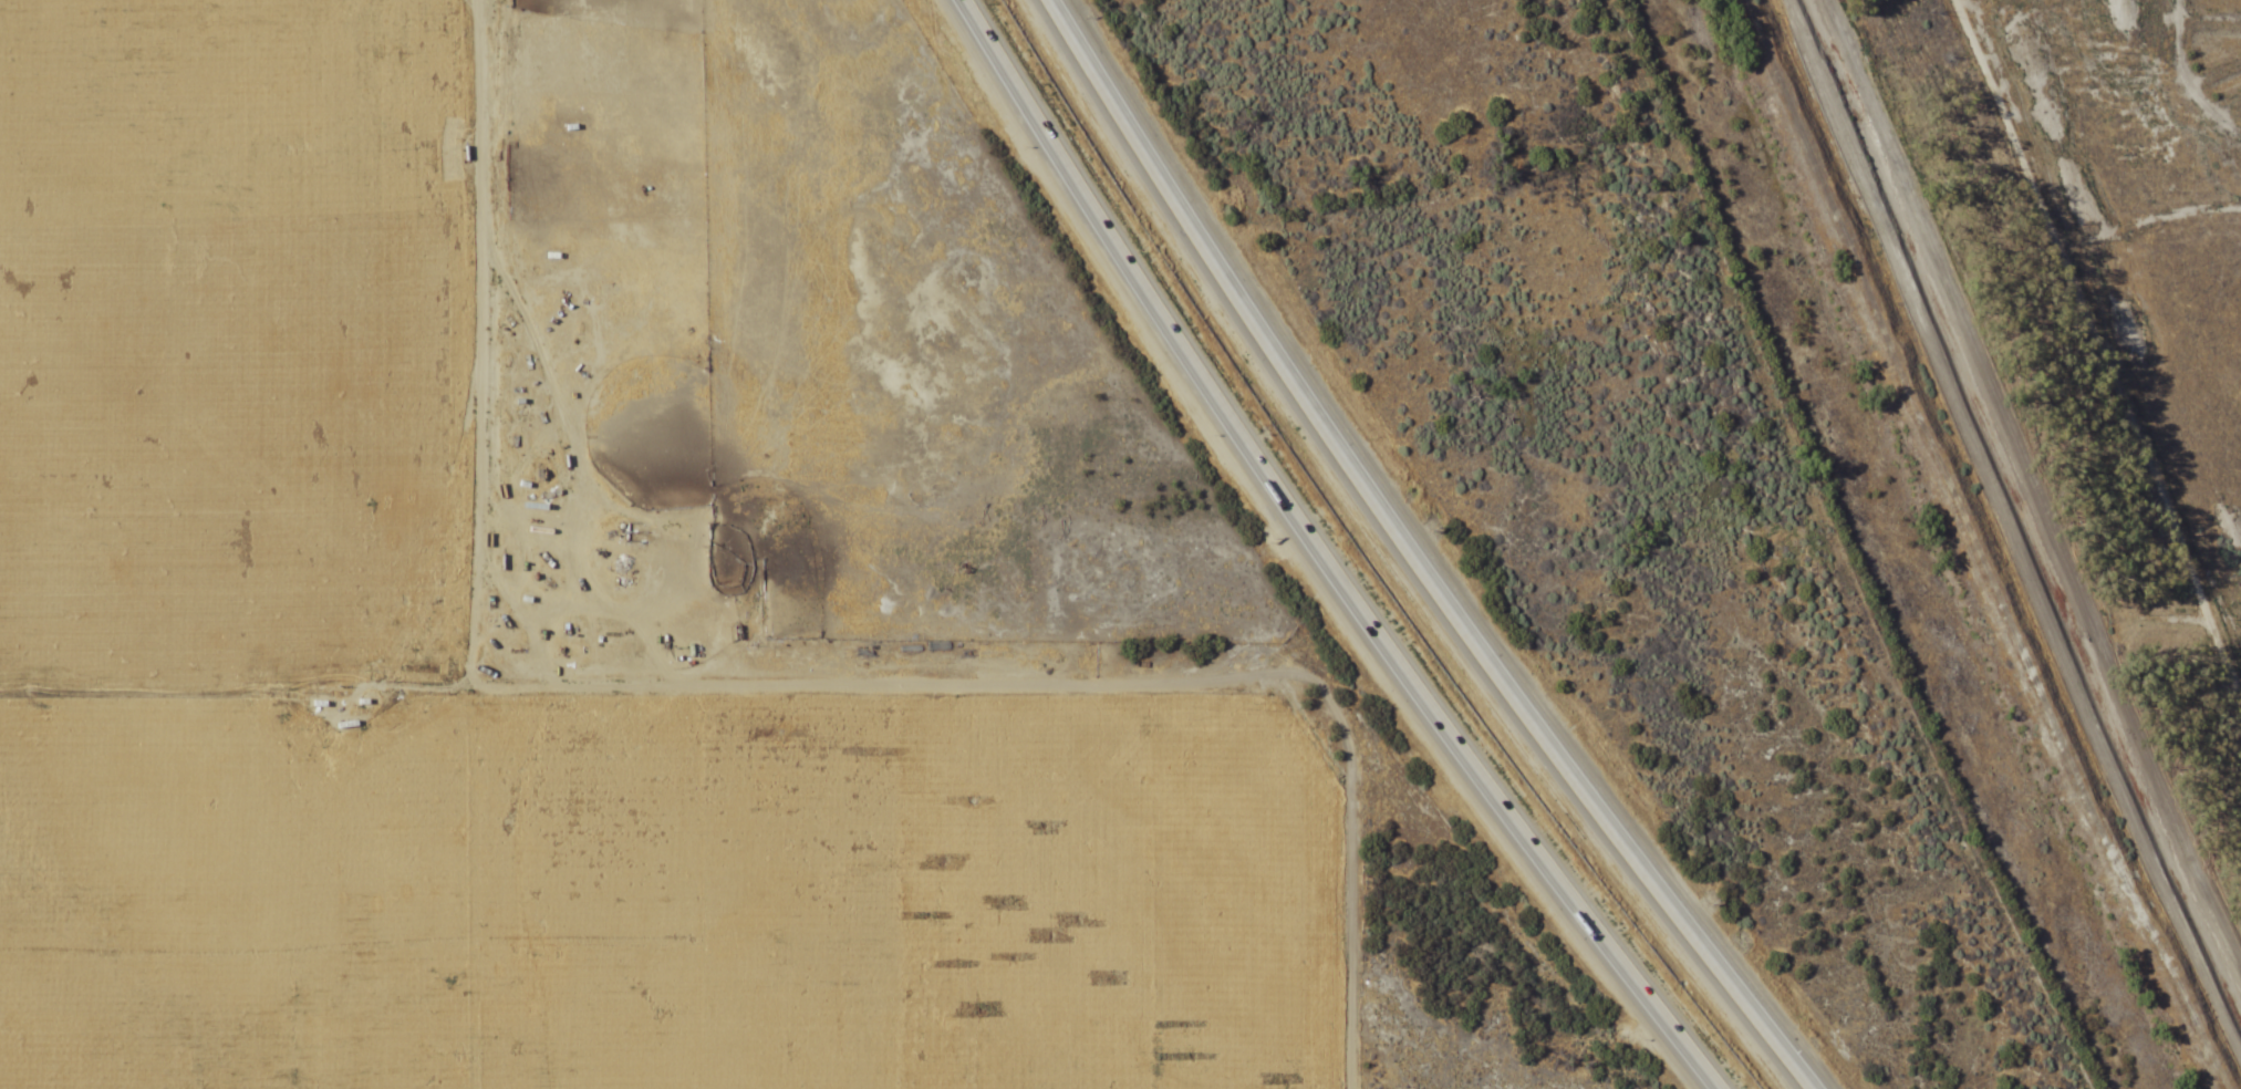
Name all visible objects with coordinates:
road: (498, 312)
crop: (1844, 449)
road: (2005, 546)
road: (1320, 558)
road: (1420, 558)
crop: (651, 600)

